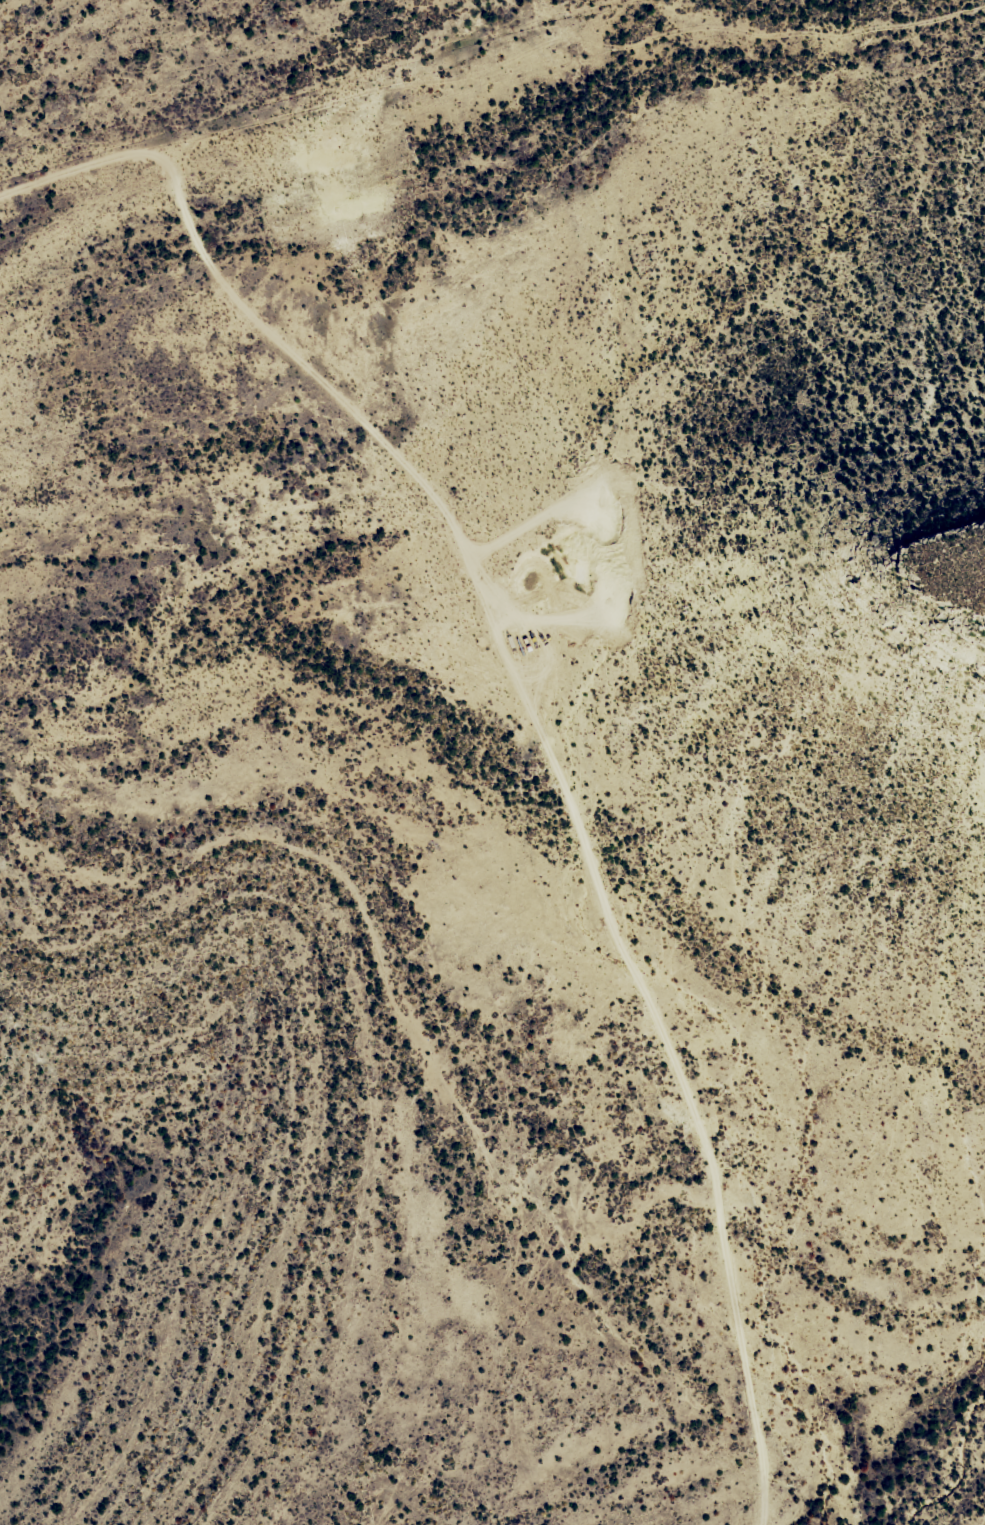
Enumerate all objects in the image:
road: (979, 1516)

